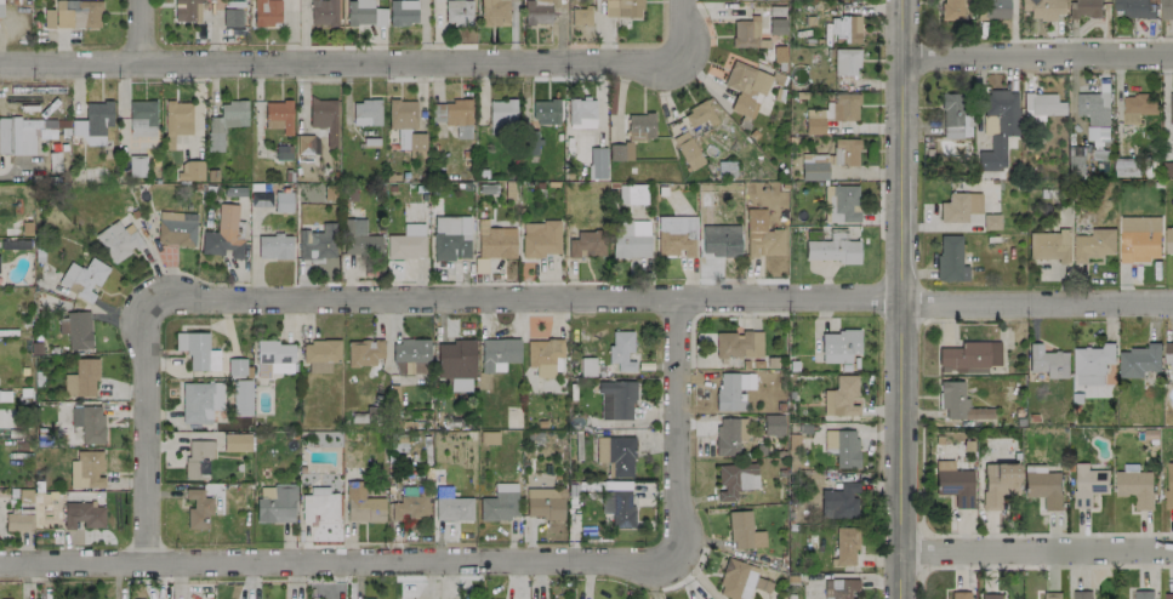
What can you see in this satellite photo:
building: (0, 7)
building: (622, 7)
building: (1134, 7)
building: (952, 8)
building: (995, 8)
building: (1042, 8)
building: (1084, 8)
building: (1166, 8)
building: (187, 10)
building: (266, 11)
building: (402, 11)
building: (457, 11)
building: (536, 11)
building: (324, 12)
building: (364, 12)
building: (494, 12)
building: (73, 13)
building: (580, 15)
building: (232, 17)
building: (844, 28)
road: (142, 32)
building: (746, 33)
road: (1037, 55)
building: (845, 61)
road: (374, 63)
building: (745, 87)
building: (1041, 104)
building: (844, 105)
building: (1171, 107)
building: (1137, 108)
building: (546, 110)
building: (365, 112)
building: (450, 112)
building: (581, 113)
building: (1095, 113)
building: (501, 114)
building: (699, 114)
building: (278, 115)
building: (951, 115)
building: (141, 116)
building: (324, 118)
building: (176, 120)
building: (814, 121)
building: (92, 122)
building: (224, 122)
building: (405, 124)
building: (640, 126)
building: (997, 126)
building: (23, 133)
building: (304, 143)
building: (687, 149)
building: (620, 150)
building: (844, 152)
building: (1075, 158)
building: (597, 162)
building: (136, 165)
building: (813, 166)
building: (1126, 166)
building: (725, 167)
building: (190, 170)
building: (631, 193)
building: (281, 201)
building: (843, 202)
building: (958, 206)
building: (176, 228)
building: (223, 234)
building: (761, 234)
building: (674, 235)
building: (451, 236)
building: (359, 238)
building: (540, 238)
building: (630, 238)
building: (118, 239)
building: (1139, 239)
building: (1168, 240)
building: (406, 241)
building: (317, 243)
building: (587, 243)
building: (719, 243)
building: (1094, 244)
building: (274, 245)
building: (1049, 245)
building: (832, 249)
building: (950, 258)
building: (81, 278)
road: (389, 298)
road: (1037, 298)
road: (901, 299)
building: (75, 329)
building: (739, 343)
building: (837, 346)
building: (197, 350)
building: (620, 350)
building: (363, 352)
building: (499, 353)
building: (320, 354)
building: (542, 354)
building: (410, 356)
building: (968, 356)
building: (273, 358)
building: (1168, 358)
building: (1139, 360)
building: (1047, 361)
building: (455, 363)
building: (1092, 364)
building: (235, 366)
building: (81, 378)
building: (733, 389)
building: (241, 397)
building: (839, 397)
building: (615, 399)
building: (199, 400)
building: (958, 403)
building: (89, 422)
building: (773, 424)
building: (729, 434)
building: (235, 441)
building: (842, 446)
building: (615, 455)
building: (198, 457)
building: (86, 469)
building: (734, 479)
building: (953, 483)
building: (998, 483)
building: (1088, 484)
building: (1169, 485)
building: (1043, 486)
building: (1135, 487)
building: (839, 501)
building: (500, 502)
building: (545, 502)
building: (361, 503)
building: (277, 504)
building: (319, 504)
building: (619, 504)
building: (408, 507)
building: (198, 508)
building: (452, 508)
building: (82, 514)
building: (18, 520)
building: (744, 531)
building: (844, 546)
road: (1040, 550)
road: (472, 561)
building: (736, 578)
building: (839, 588)
building: (958, 594)
building: (1050, 594)
building: (1081, 594)
building: (1141, 594)
building: (990, 595)
building: (1168, 595)
building: (705, 598)

